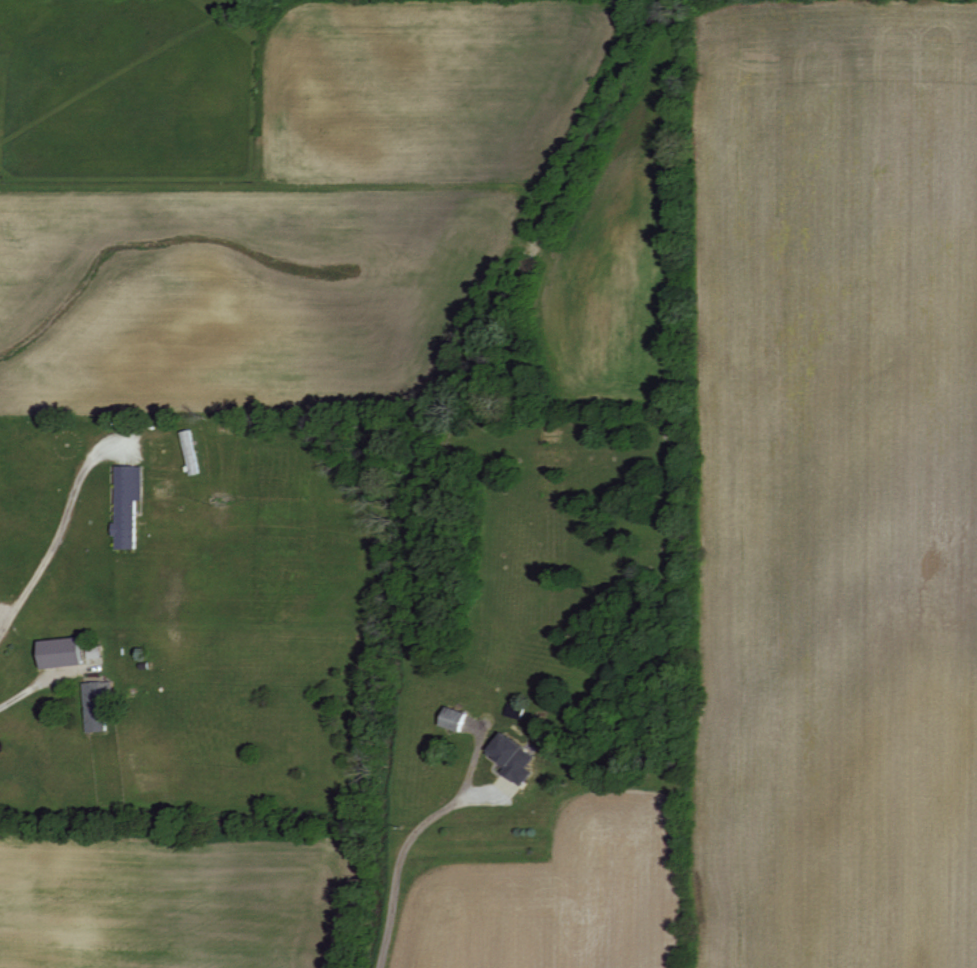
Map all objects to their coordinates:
building: (131, 505)
road: (62, 530)
building: (68, 653)
road: (38, 684)
building: (101, 705)
building: (460, 720)
building: (518, 759)
road: (397, 869)

